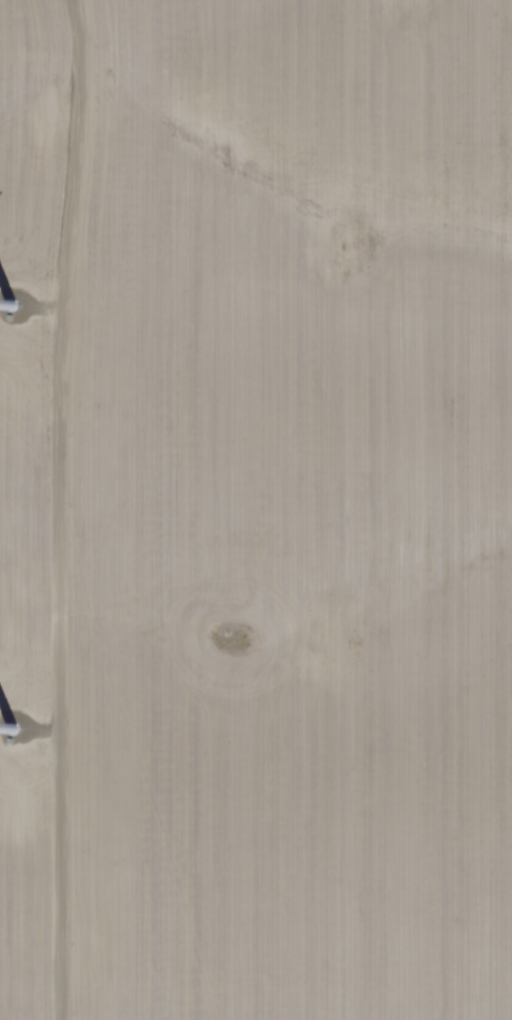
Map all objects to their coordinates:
road: (54, 509)

